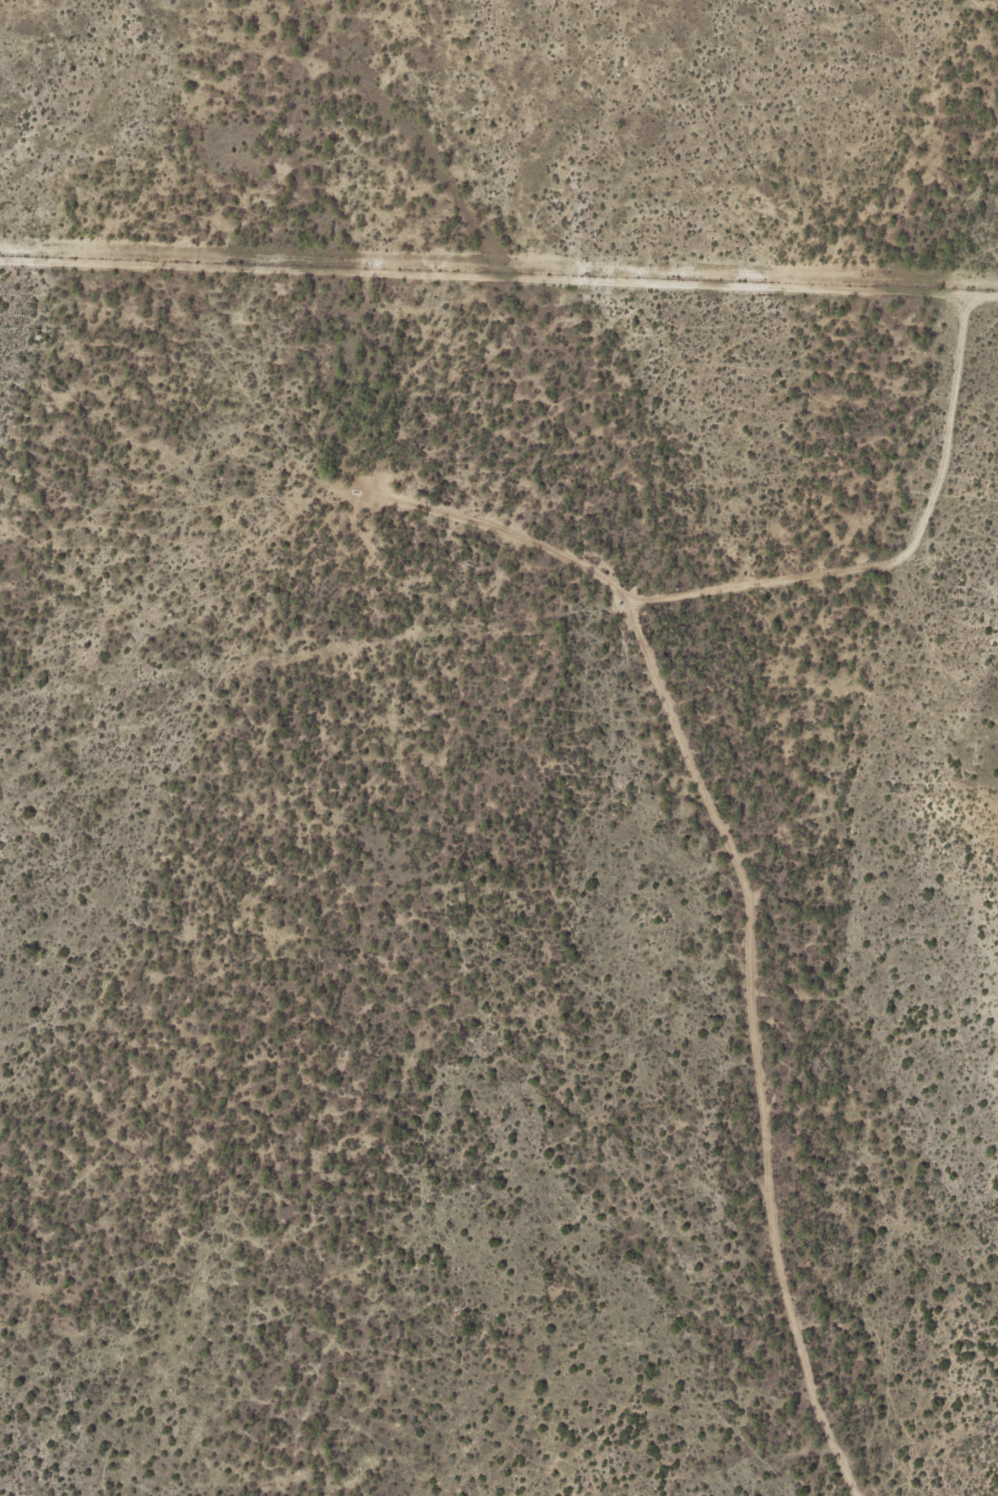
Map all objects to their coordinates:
road: (498, 275)
road: (509, 529)
road: (704, 781)

